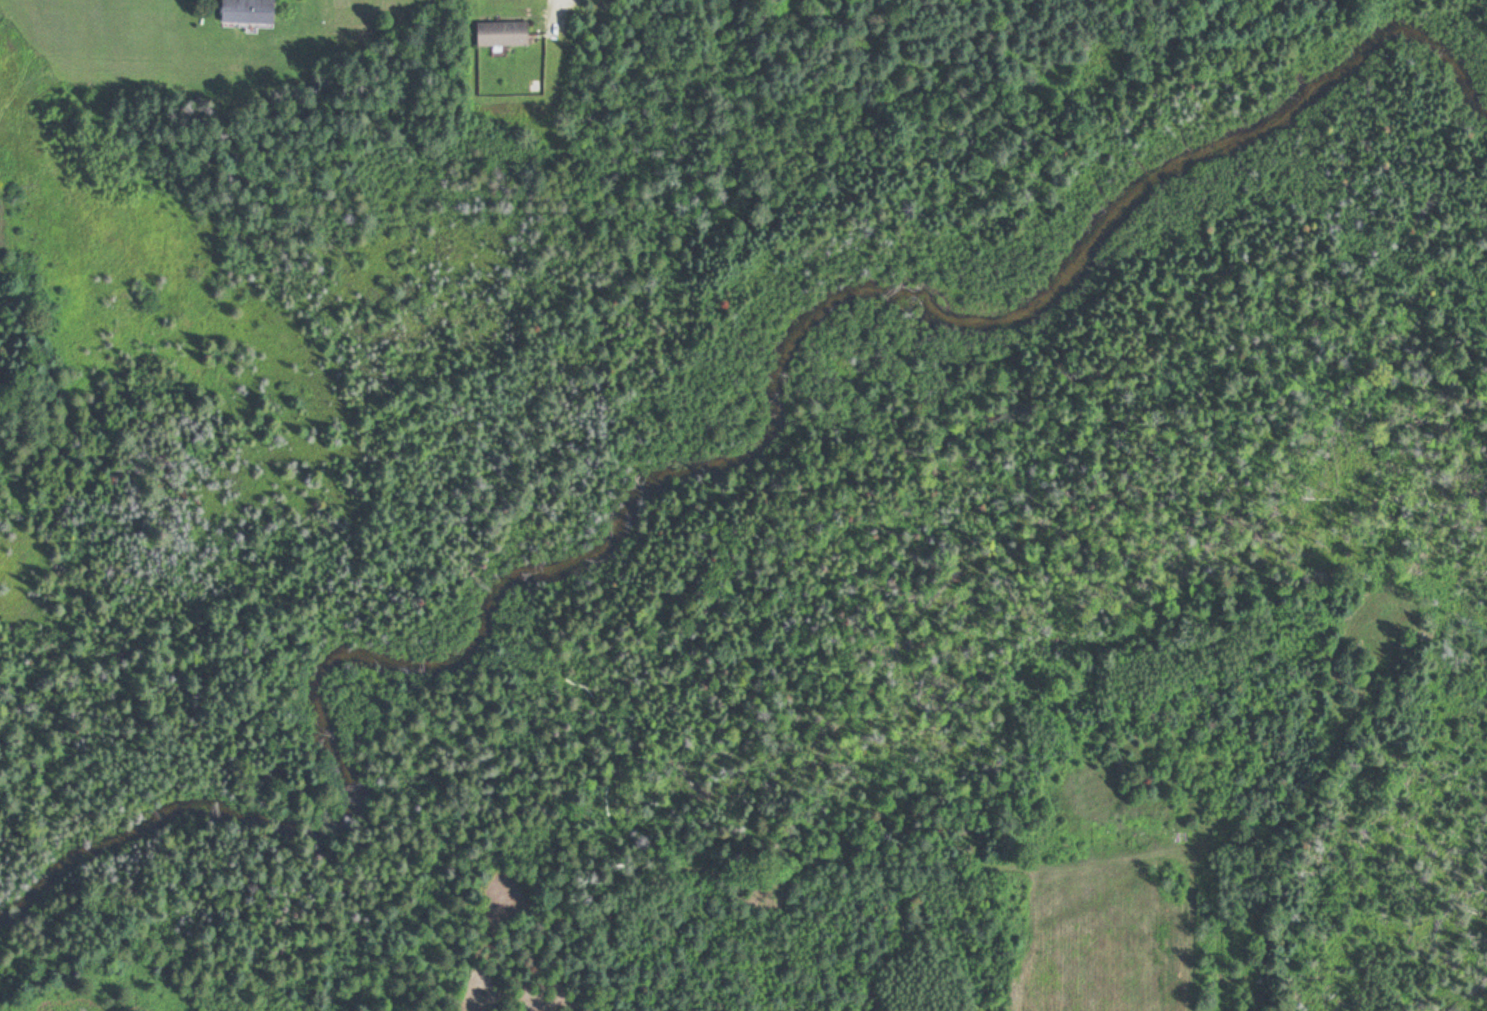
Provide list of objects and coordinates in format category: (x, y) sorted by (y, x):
building: (245, 12)
building: (499, 33)

